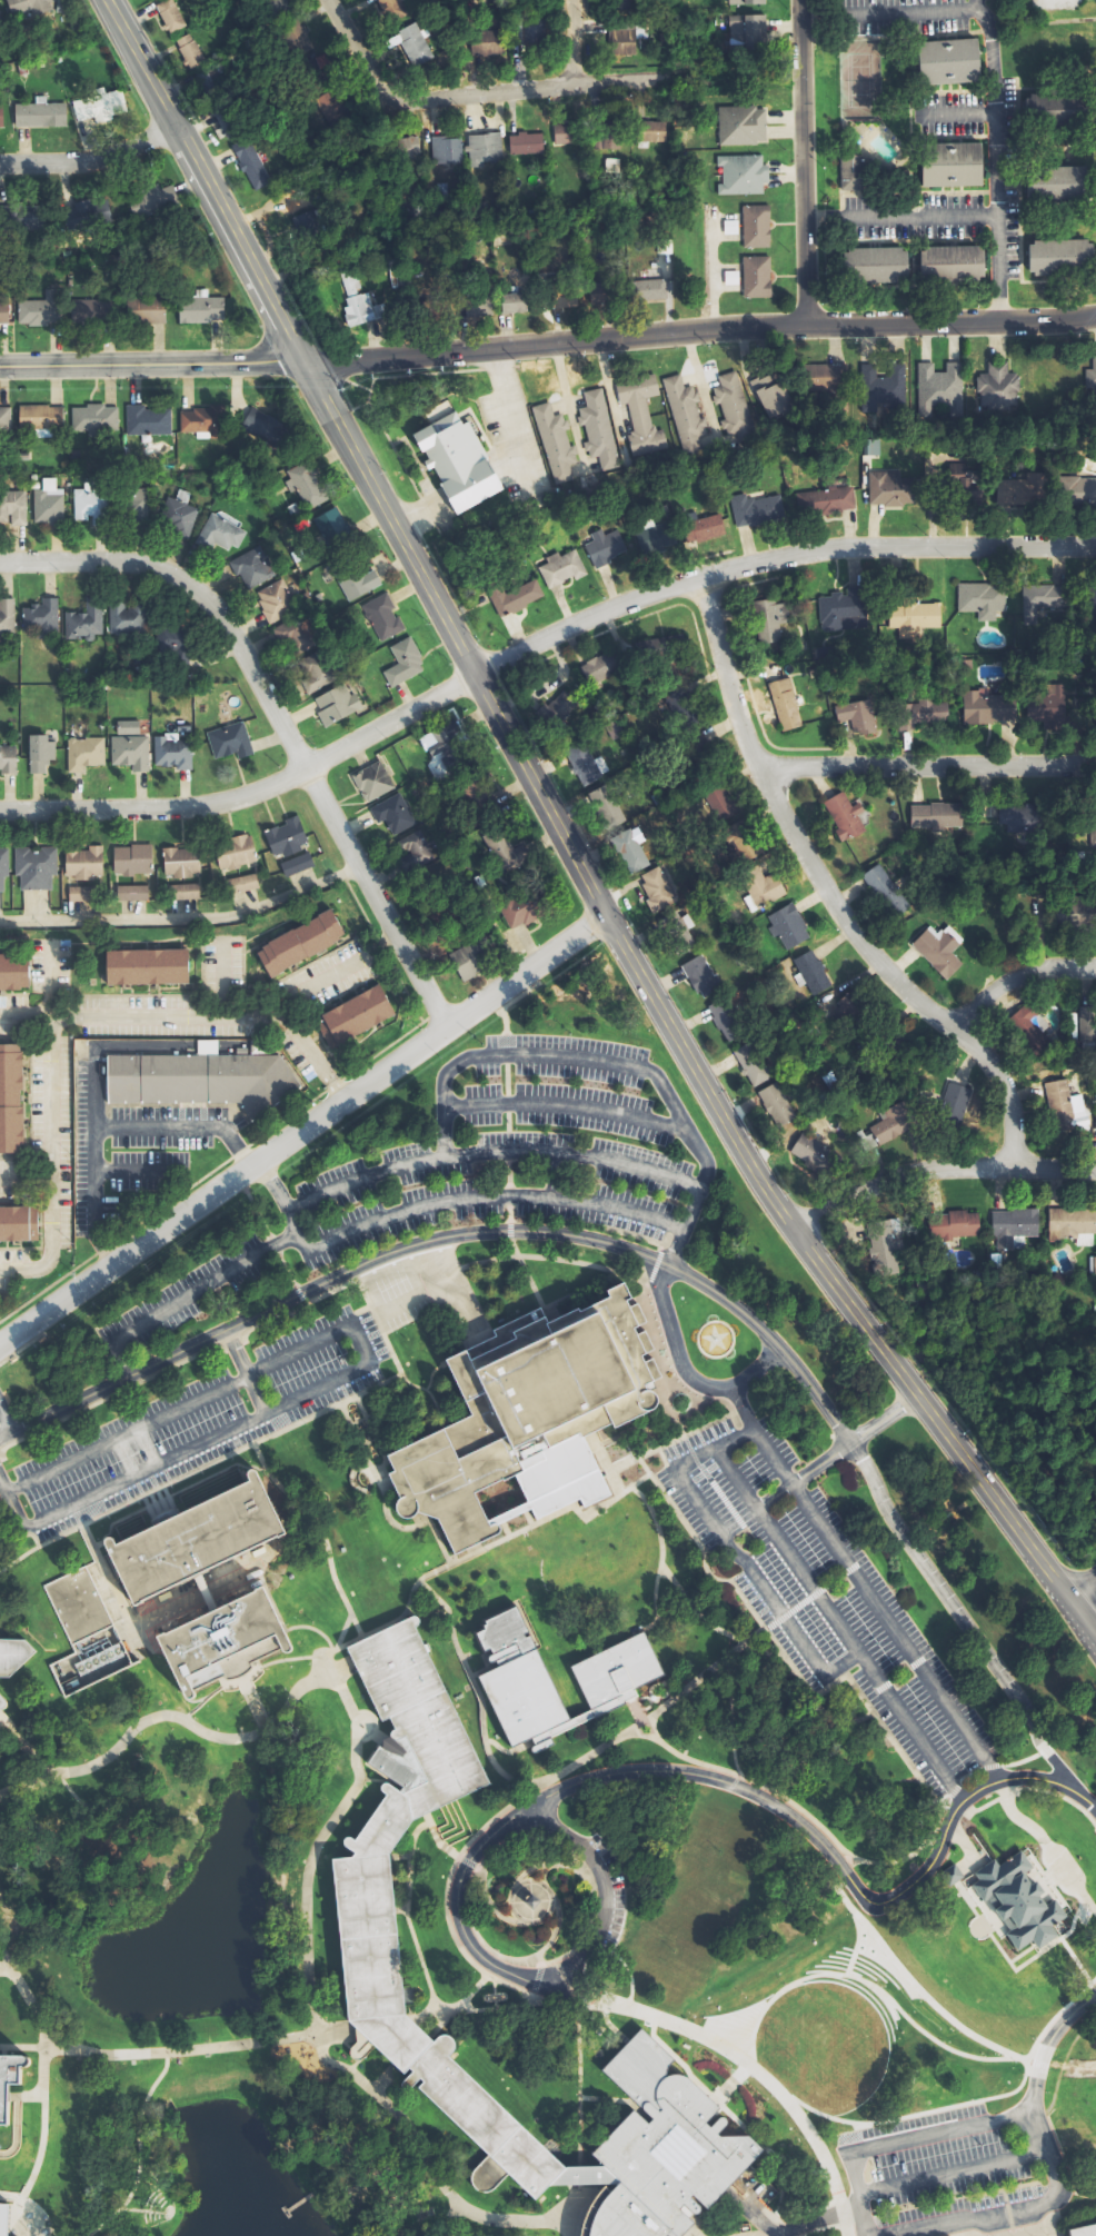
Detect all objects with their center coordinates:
building: (743, 2)
building: (270, 3)
building: (27, 6)
building: (389, 11)
road: (891, 11)
building: (167, 16)
building: (1, 18)
building: (532, 31)
building: (295, 32)
building: (744, 32)
building: (622, 39)
building: (487, 41)
building: (415, 43)
building: (187, 52)
building: (943, 61)
building: (313, 66)
road: (576, 74)
building: (209, 80)
park: (857, 80)
road: (617, 82)
road: (396, 95)
building: (98, 105)
building: (1052, 108)
building: (332, 109)
road: (958, 110)
building: (38, 115)
building: (2, 117)
building: (220, 120)
building: (736, 126)
building: (651, 130)
building: (564, 133)
building: (606, 136)
building: (525, 143)
building: (485, 147)
building: (405, 149)
building: (446, 149)
road: (995, 159)
road: (90, 161)
road: (807, 161)
building: (247, 163)
building: (945, 166)
building: (738, 173)
building: (848, 173)
building: (1052, 183)
road: (209, 185)
road: (903, 211)
building: (83, 215)
building: (305, 227)
building: (751, 227)
building: (1055, 257)
building: (947, 264)
building: (869, 265)
building: (751, 277)
building: (734, 278)
building: (642, 289)
building: (599, 294)
building: (559, 298)
building: (508, 304)
building: (356, 305)
building: (475, 306)
building: (203, 308)
building: (4, 309)
building: (430, 309)
building: (92, 310)
building: (151, 310)
building: (37, 312)
road: (707, 329)
road: (159, 365)
building: (1089, 378)
building: (820, 384)
building: (879, 387)
building: (994, 387)
building: (936, 388)
building: (767, 392)
building: (729, 407)
building: (637, 414)
building: (680, 414)
building: (3, 417)
building: (38, 417)
building: (92, 417)
building: (201, 418)
building: (145, 420)
building: (265, 429)
building: (594, 430)
building: (550, 441)
building: (867, 447)
building: (454, 463)
building: (303, 484)
building: (959, 486)
building: (888, 488)
building: (1018, 490)
building: (1074, 490)
building: (132, 500)
building: (821, 500)
building: (89, 505)
building: (12, 507)
building: (46, 507)
building: (751, 508)
building: (177, 516)
building: (336, 528)
building: (699, 528)
building: (217, 533)
building: (651, 536)
building: (601, 547)
building: (249, 566)
building: (558, 568)
building: (352, 580)
building: (1090, 596)
building: (508, 597)
building: (978, 599)
building: (1039, 599)
building: (273, 600)
building: (840, 610)
building: (6, 616)
building: (379, 617)
building: (910, 617)
building: (39, 618)
building: (124, 618)
building: (765, 619)
building: (83, 620)
building: (290, 630)
road: (461, 639)
building: (170, 642)
road: (536, 643)
building: (659, 647)
building: (400, 662)
building: (600, 669)
building: (311, 670)
building: (780, 704)
building: (332, 705)
building: (987, 707)
building: (1058, 709)
building: (923, 714)
building: (854, 716)
road: (273, 718)
building: (452, 723)
building: (226, 741)
building: (435, 743)
building: (127, 751)
building: (39, 752)
building: (81, 753)
building: (169, 753)
building: (7, 758)
building: (587, 764)
road: (926, 765)
building: (369, 781)
building: (469, 793)
building: (609, 807)
building: (389, 813)
building: (938, 815)
building: (840, 816)
building: (1020, 818)
building: (738, 829)
building: (283, 837)
building: (495, 848)
building: (634, 849)
building: (232, 852)
building: (410, 852)
building: (130, 858)
building: (178, 861)
building: (81, 862)
building: (2, 864)
building: (295, 864)
building: (33, 867)
building: (240, 884)
building: (764, 886)
building: (659, 888)
building: (181, 891)
building: (887, 891)
building: (80, 893)
building: (130, 893)
road: (828, 895)
building: (517, 910)
building: (1084, 912)
road: (183, 920)
building: (790, 926)
building: (687, 938)
building: (299, 943)
building: (941, 950)
building: (465, 960)
building: (146, 965)
building: (13, 971)
building: (815, 972)
building: (703, 976)
road: (1015, 978)
road: (222, 980)
building: (845, 1012)
building: (352, 1015)
road: (208, 1017)
building: (727, 1020)
building: (1076, 1024)
building: (1088, 1028)
building: (1032, 1031)
road: (124, 1045)
road: (307, 1053)
road: (567, 1057)
road: (50, 1061)
building: (754, 1064)
building: (199, 1080)
building: (10, 1097)
building: (957, 1101)
building: (778, 1104)
road: (562, 1105)
building: (1067, 1106)
building: (890, 1125)
road: (303, 1127)
road: (109, 1129)
parking lot: (128, 1143)
road: (501, 1152)
building: (813, 1152)
parking lot: (479, 1167)
road: (134, 1169)
road: (938, 1170)
road: (469, 1199)
road: (48, 1220)
building: (17, 1222)
building: (959, 1224)
building: (1074, 1225)
building: (1016, 1226)
road: (485, 1231)
road: (637, 1236)
building: (885, 1248)
road: (655, 1265)
road: (632, 1275)
road: (646, 1280)
road: (834, 1283)
road: (185, 1294)
road: (230, 1346)
road: (686, 1372)
road: (345, 1373)
road: (112, 1393)
road: (743, 1408)
building: (521, 1410)
road: (306, 1417)
parking lot: (201, 1420)
road: (3, 1424)
road: (694, 1431)
road: (760, 1439)
road: (656, 1452)
road: (821, 1463)
road: (737, 1478)
building: (557, 1479)
road: (713, 1482)
road: (1, 1490)
road: (776, 1497)
road: (11, 1510)
building: (199, 1538)
road: (658, 1558)
road: (749, 1566)
road: (1080, 1581)
road: (411, 1584)
road: (816, 1592)
parking lot: (821, 1593)
road: (963, 1623)
road: (891, 1624)
road: (1094, 1624)
road: (708, 1626)
building: (84, 1632)
road: (312, 1632)
road: (338, 1632)
building: (228, 1640)
road: (341, 1644)
road: (776, 1650)
road: (855, 1650)
building: (13, 1654)
building: (614, 1682)
road: (340, 1697)
building: (2, 1701)
road: (478, 1703)
road: (733, 1717)
building: (418, 1720)
road: (362, 1722)
road: (3, 1728)
road: (209, 1733)
road: (29, 1746)
road: (1044, 1749)
road: (507, 1751)
road: (1020, 1761)
road: (994, 1766)
road: (996, 1772)
road: (973, 1776)
road: (729, 1782)
road: (956, 1790)
road: (1008, 1793)
road: (1059, 1795)
road: (959, 1796)
road: (948, 1799)
road: (948, 1803)
road: (983, 1806)
road: (801, 1809)
road: (957, 1809)
road: (438, 1839)
road: (1046, 1845)
road: (967, 1846)
road: (469, 1861)
road: (855, 1862)
road: (548, 1864)
road: (847, 1872)
building: (950, 1874)
road: (536, 1880)
road: (602, 1880)
parking lot: (605, 1895)
building: (531, 1899)
building: (1012, 1901)
road: (492, 1905)
building: (373, 1912)
road: (409, 1920)
road: (552, 1938)
road: (857, 1944)
road: (465, 1952)
park: (777, 1955)
road: (562, 1956)
road: (540, 1966)
road: (626, 1966)
road: (3, 1967)
road: (844, 1974)
road: (537, 1979)
road: (916, 1985)
road: (534, 1994)
road: (458, 2004)
road: (30, 2005)
road: (475, 2008)
road: (738, 2018)
road: (312, 2033)
road: (1047, 2043)
road: (1038, 2064)
road: (41, 2075)
building: (9, 2078)
road: (578, 2085)
road: (968, 2101)
building: (466, 2104)
road: (1030, 2111)
road: (13, 2128)
building: (658, 2150)
parking lot: (935, 2155)
road: (36, 2158)
road: (421, 2166)
road: (953, 2172)
road: (579, 2173)
road: (576, 2208)
road: (843, 2212)
parking lot: (964, 2212)
road: (32, 2215)
road: (1066, 2216)
building: (6, 2218)
road: (847, 2228)
road: (789, 2229)
road: (1025, 2229)
building: (1083, 2230)
road: (960, 2235)

